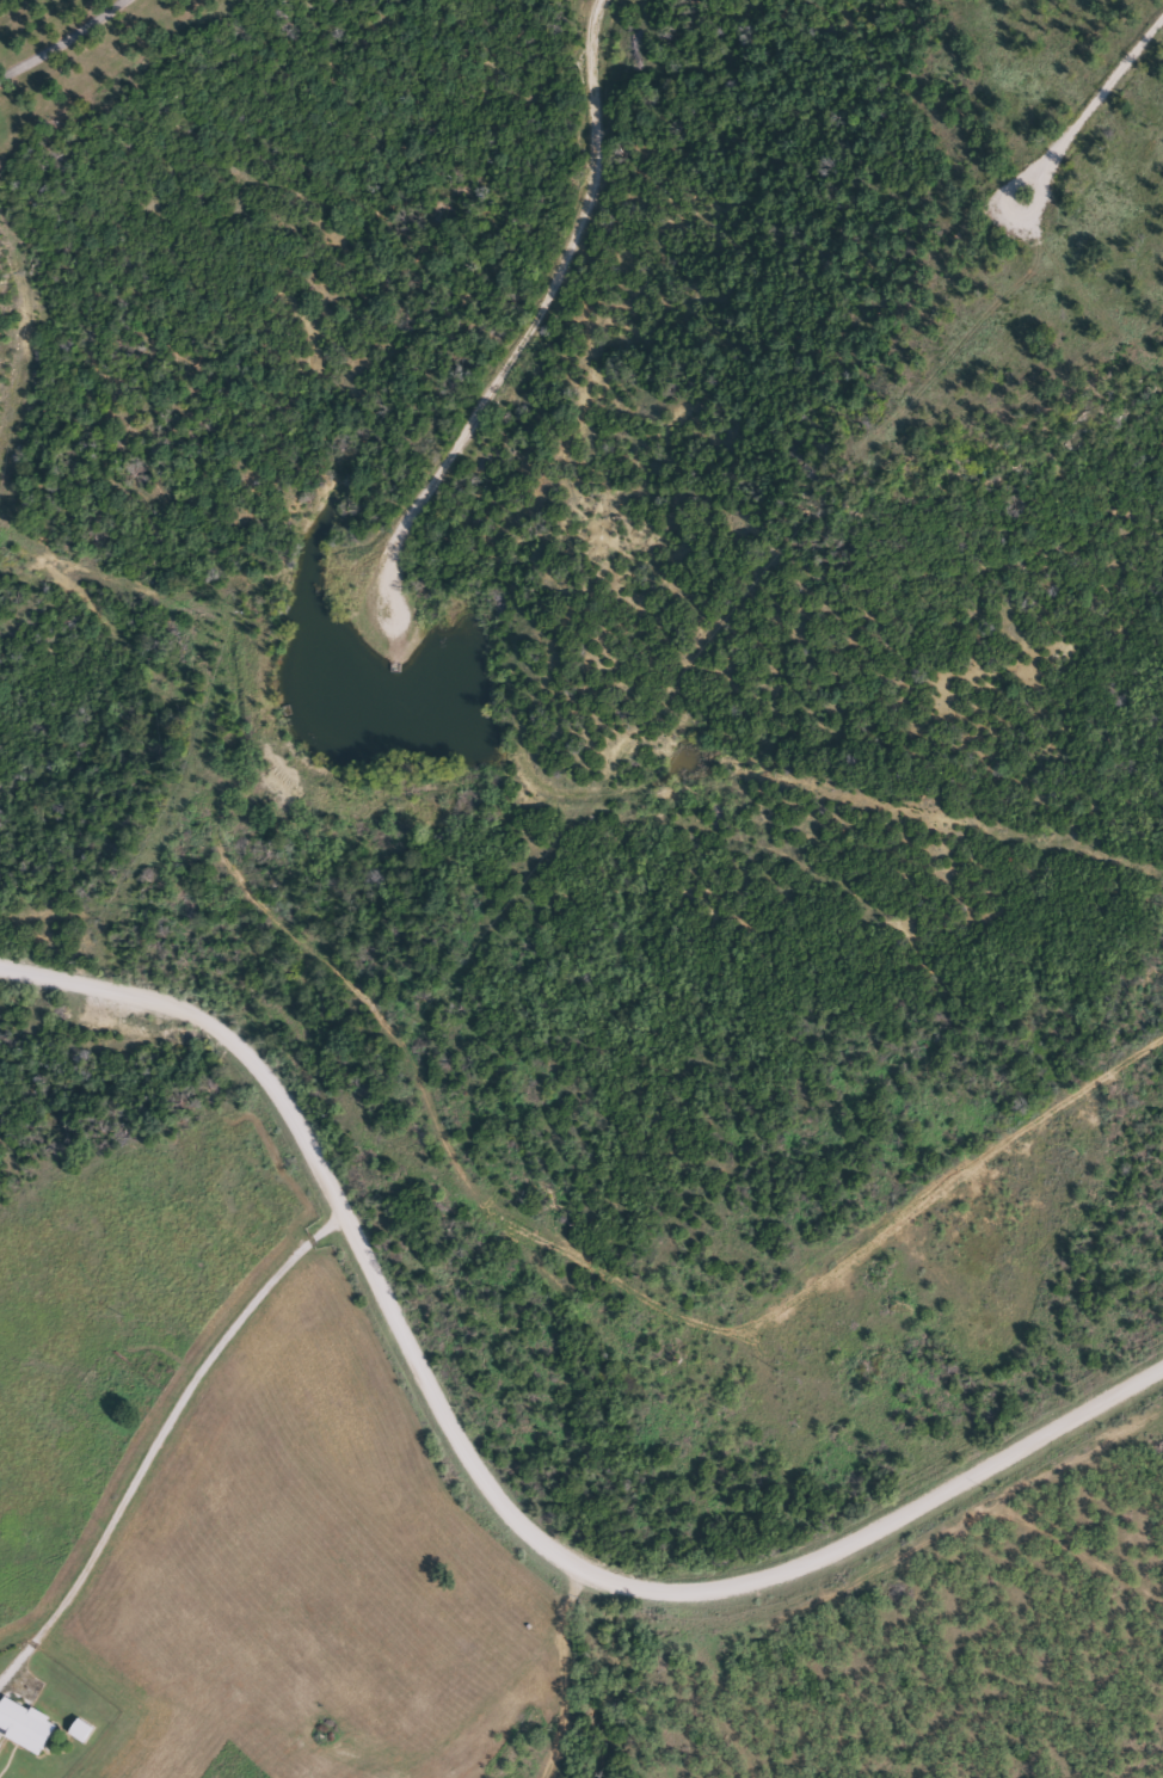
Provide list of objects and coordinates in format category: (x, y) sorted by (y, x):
road: (56, 36)
road: (1088, 110)
road: (527, 339)
road: (490, 1485)
building: (23, 1727)

